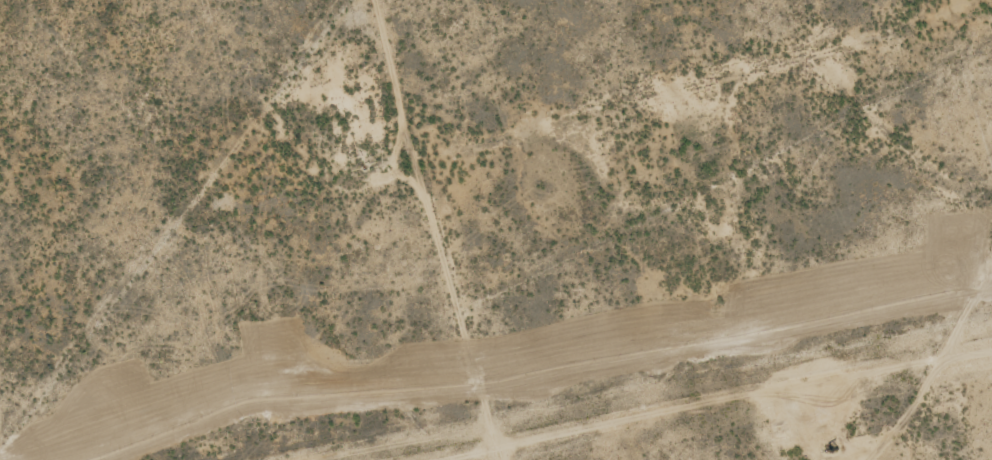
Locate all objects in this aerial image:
road: (497, 229)
road: (555, 458)

